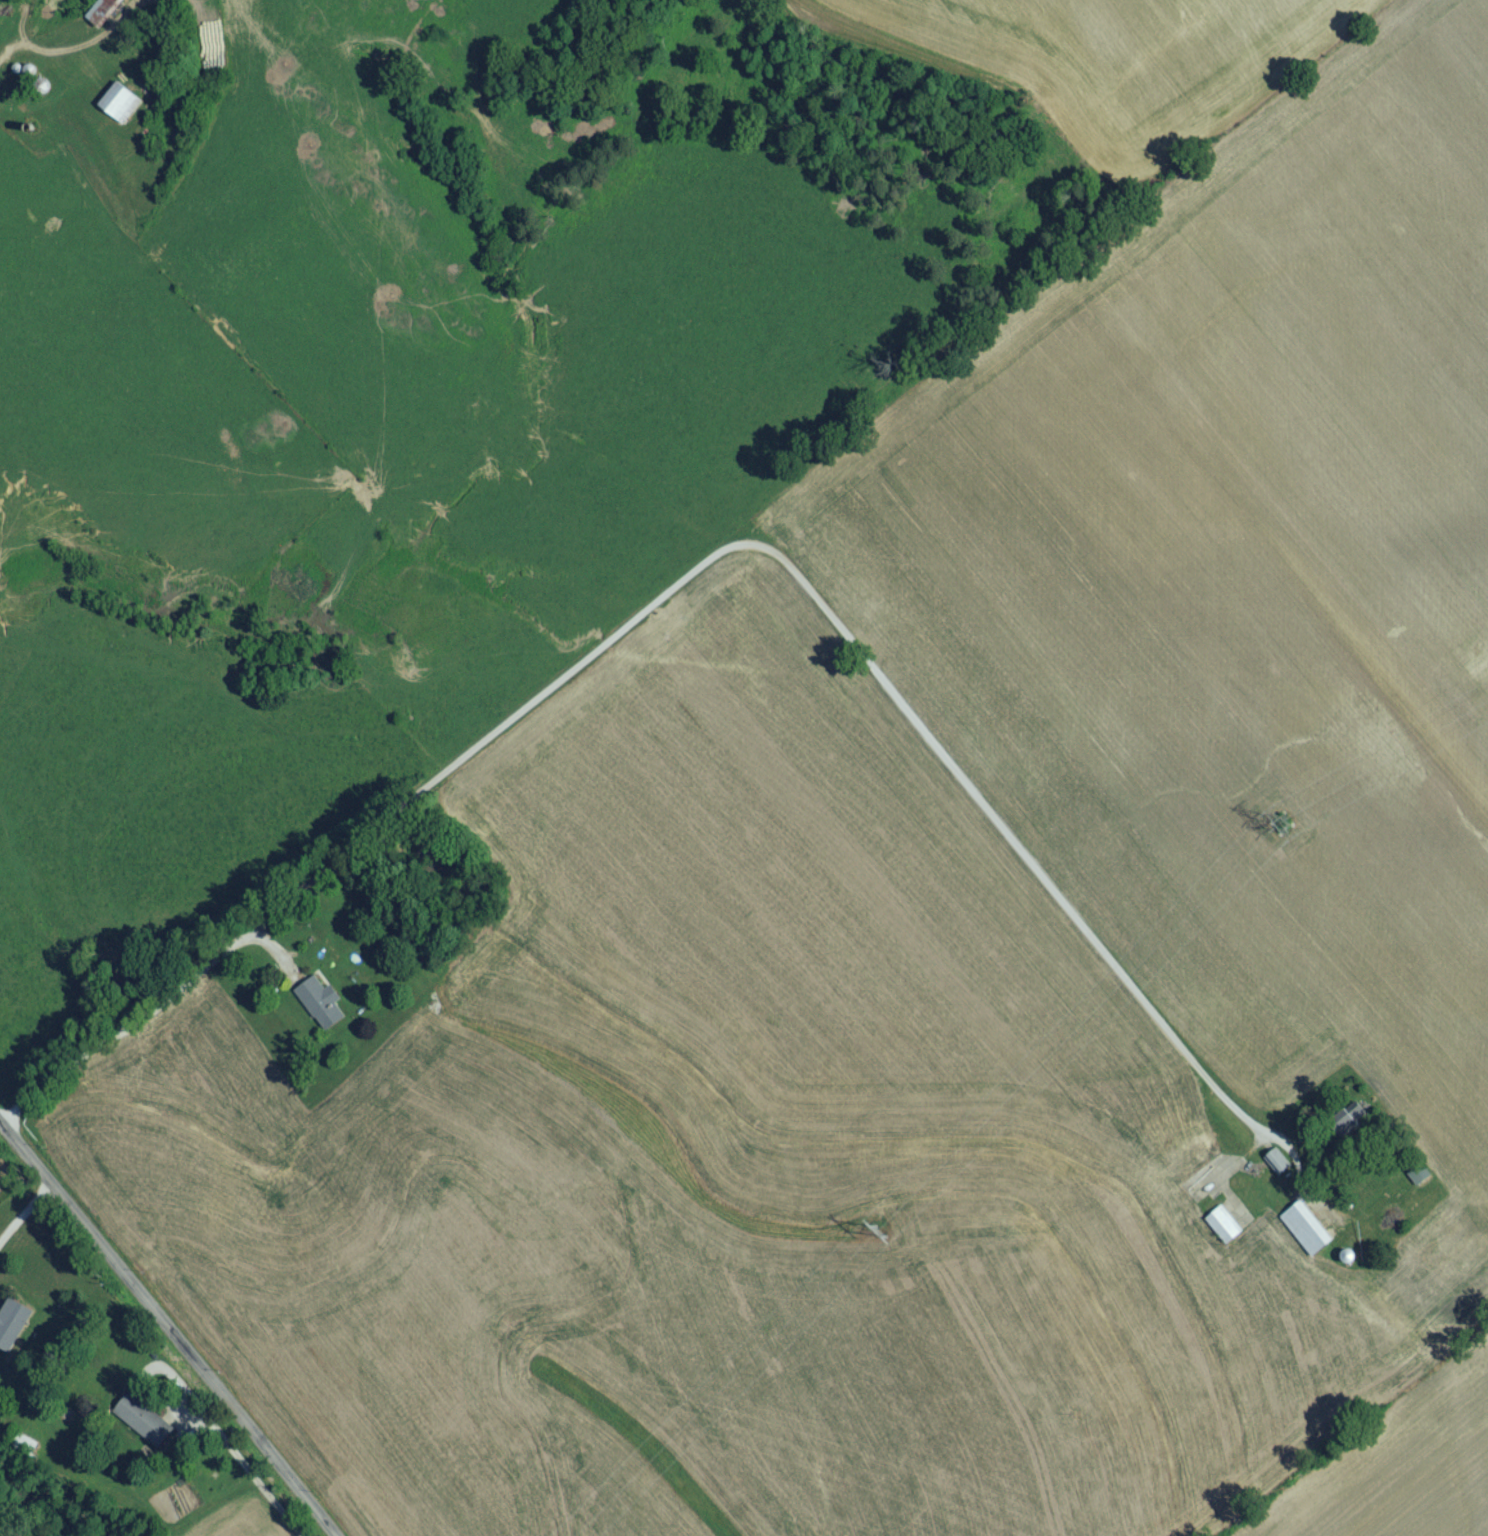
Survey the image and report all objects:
building: (104, 14)
road: (83, 44)
building: (119, 108)
road: (724, 552)
power tower: (1283, 829)
building: (319, 1008)
building: (1191, 1162)
building: (1275, 1169)
building: (1419, 1180)
road: (26, 1212)
building: (1224, 1230)
building: (1306, 1233)
power tower: (881, 1239)
road: (163, 1317)
building: (14, 1323)
building: (143, 1426)
building: (23, 1450)
road: (235, 1462)

